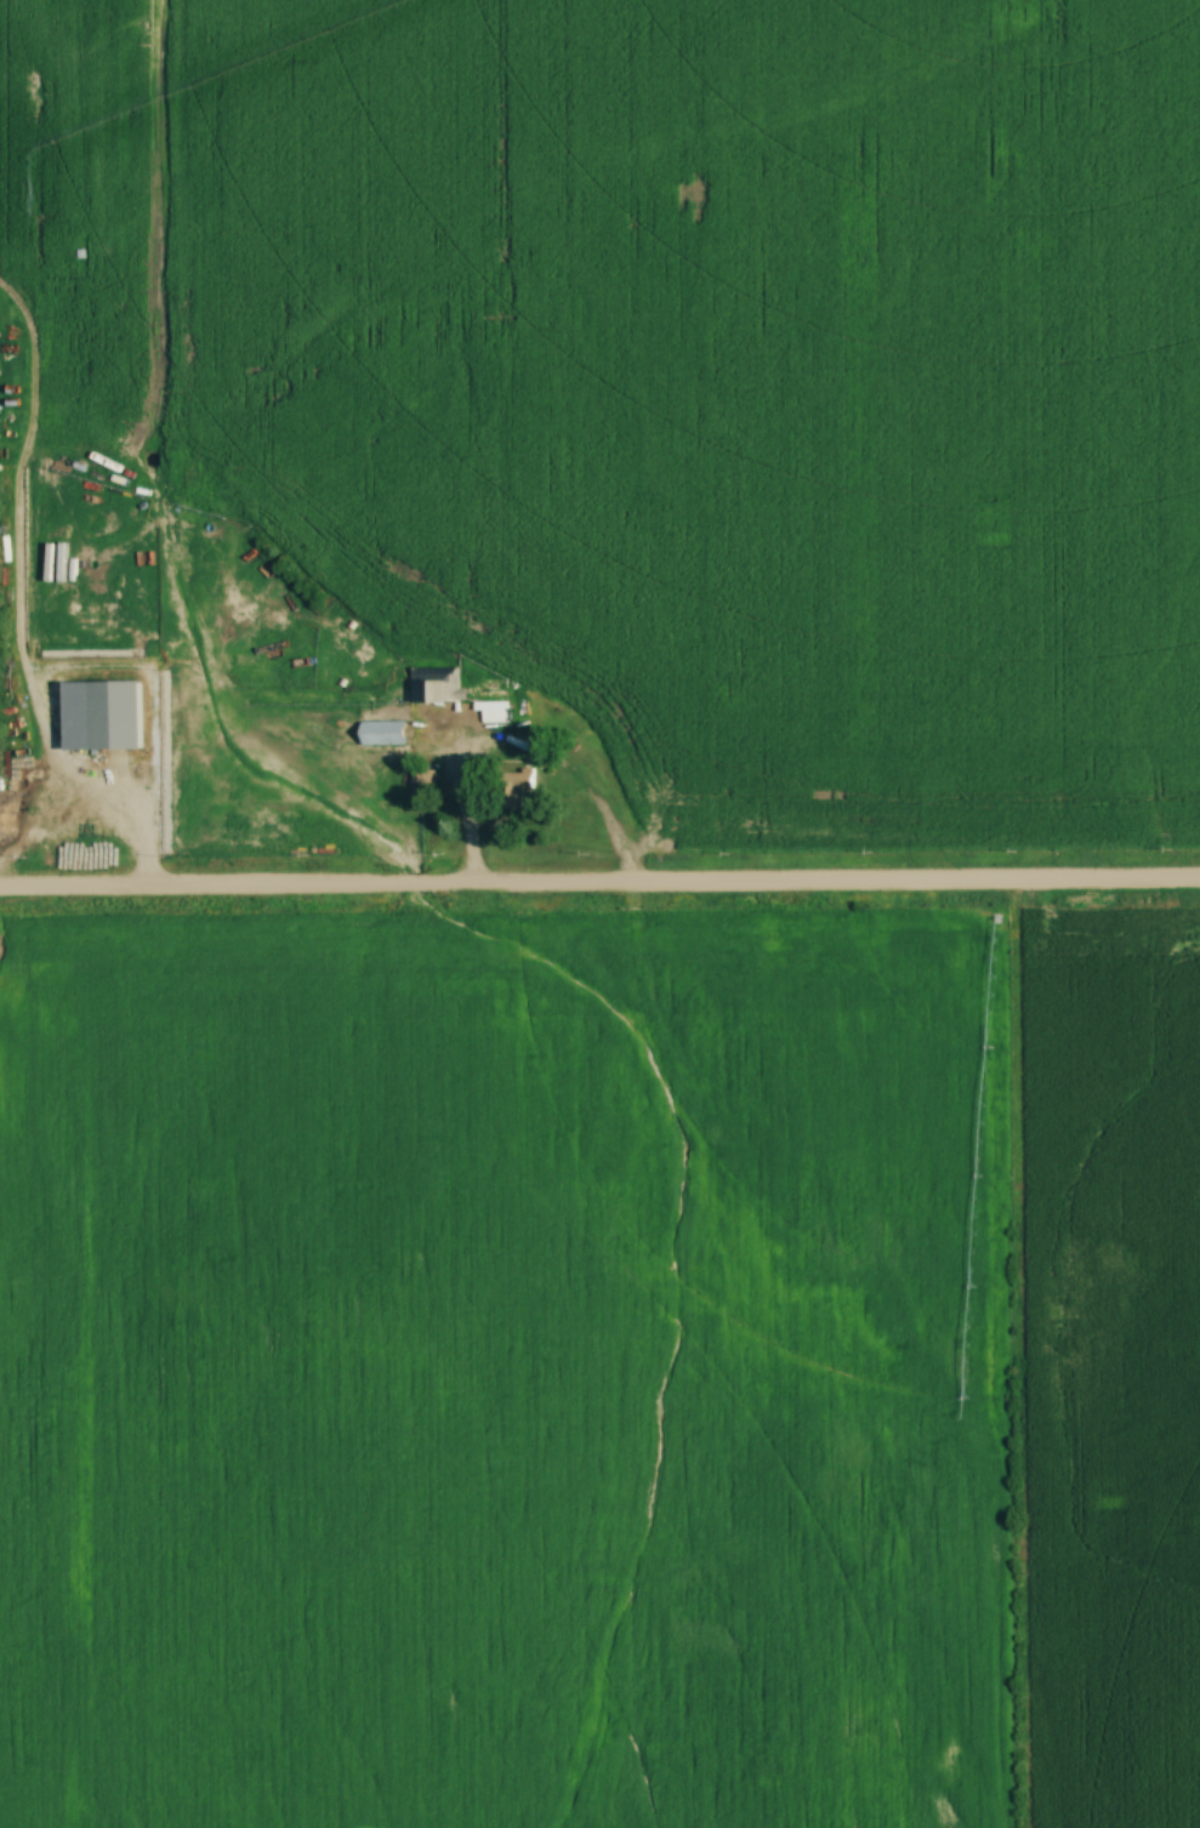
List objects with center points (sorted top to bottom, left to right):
building: (434, 684)
building: (113, 713)
building: (380, 731)
building: (421, 776)
building: (513, 785)
road: (23, 803)
road: (460, 809)
road: (599, 890)

